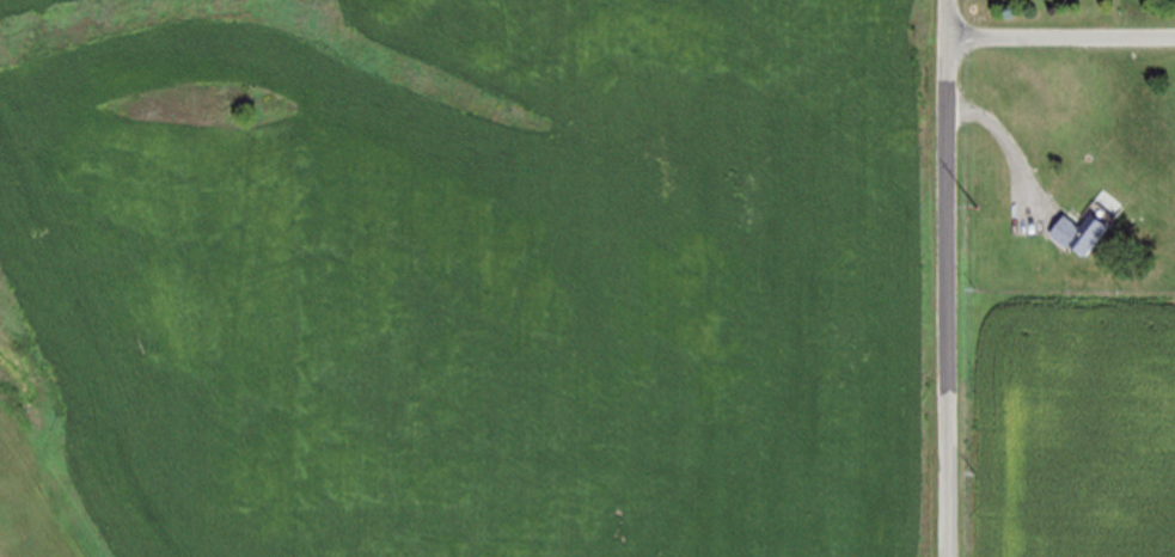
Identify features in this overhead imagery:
road: (1061, 36)
road: (1009, 147)
building: (1079, 233)
road: (947, 277)

